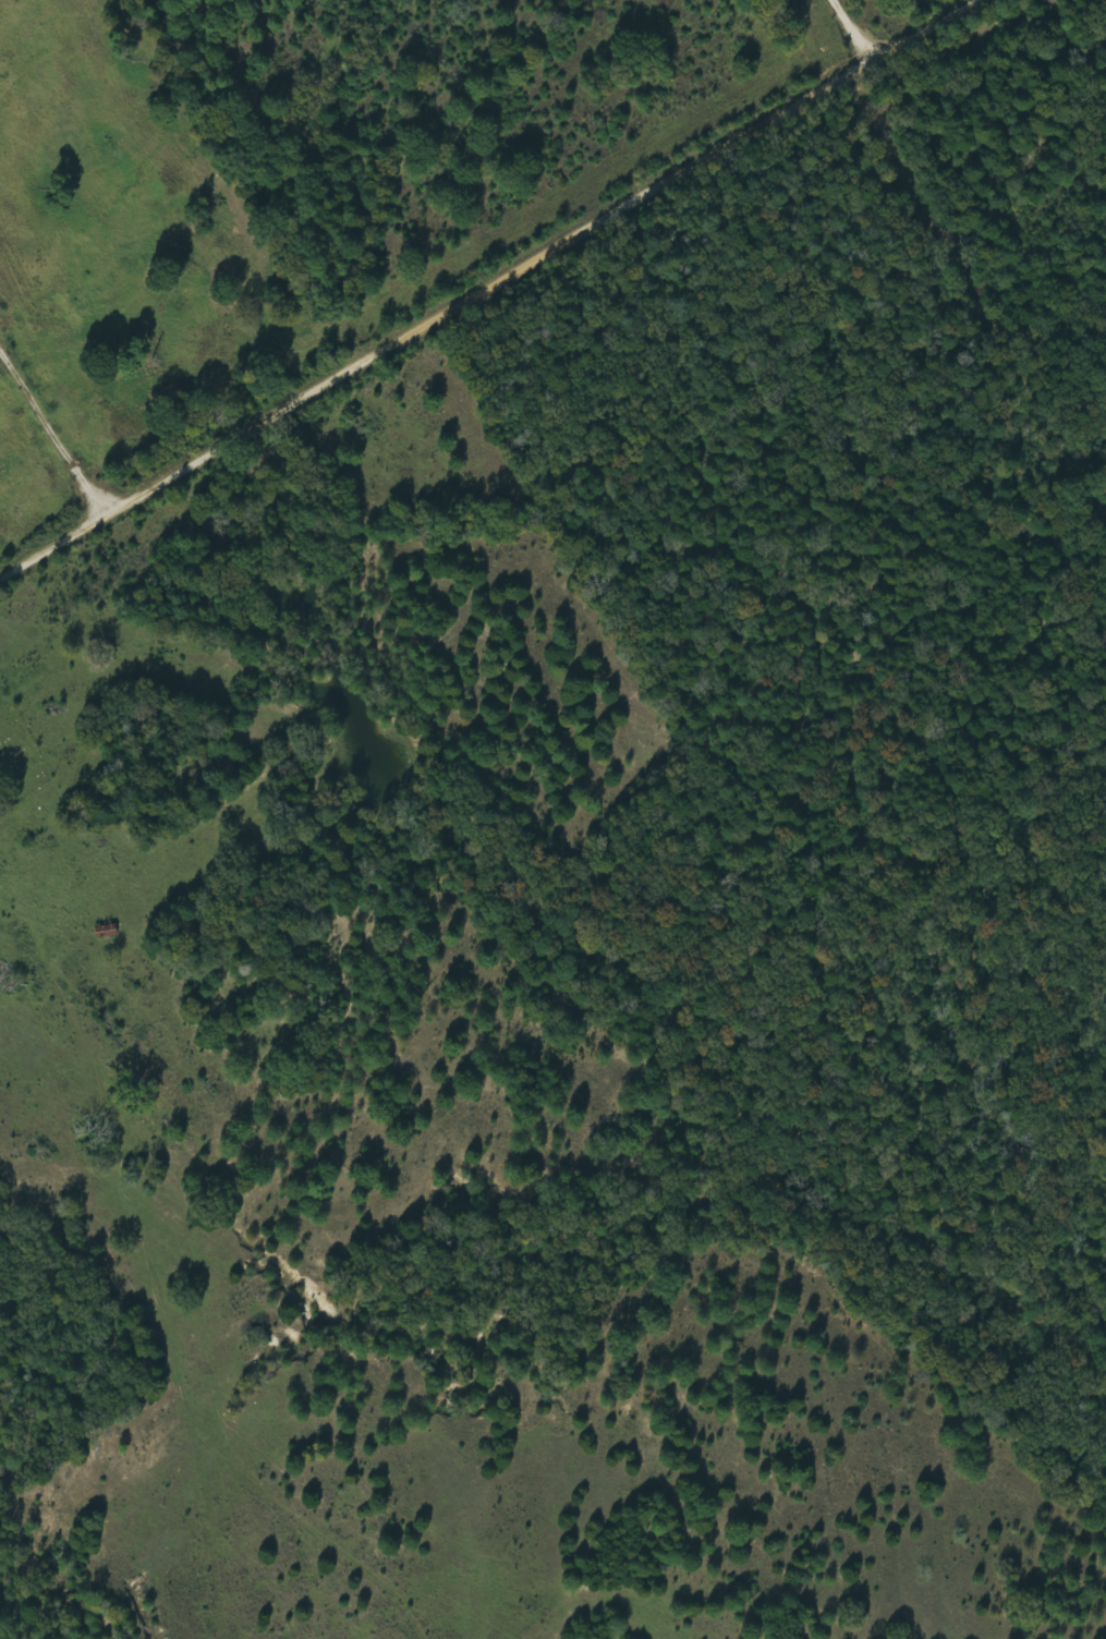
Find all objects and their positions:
road: (276, 178)
road: (488, 291)

